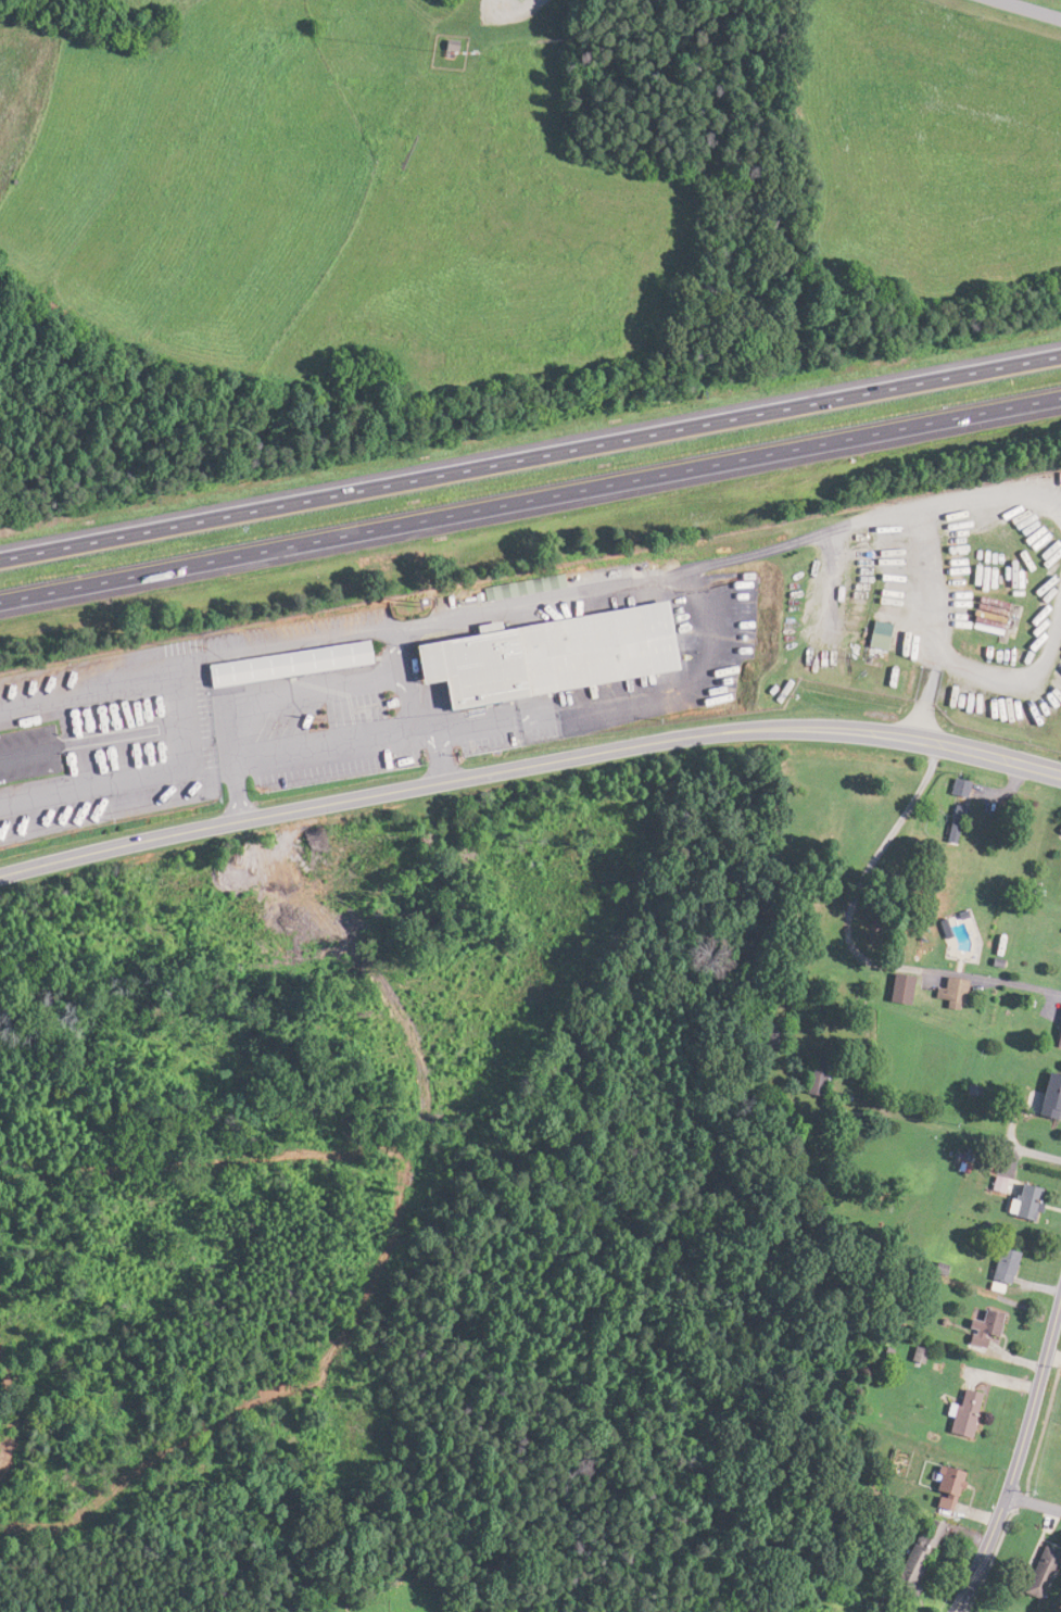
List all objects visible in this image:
road: (1033, 8)
road: (530, 457)
road: (530, 500)
road: (937, 516)
building: (522, 587)
building: (874, 642)
building: (543, 655)
road: (1012, 677)
road: (930, 692)
road: (191, 730)
road: (333, 743)
road: (442, 759)
road: (529, 765)
building: (955, 788)
road: (241, 798)
building: (951, 824)
building: (896, 988)
building: (948, 993)
building: (1057, 1031)
building: (766, 1033)
building: (811, 1076)
building: (1048, 1095)
road: (1016, 1148)
building: (1022, 1201)
building: (1000, 1269)
building: (984, 1324)
road: (1053, 1356)
building: (960, 1412)
road: (1016, 1458)
building: (942, 1487)
road: (1033, 1502)
building: (909, 1557)
building: (1034, 1570)

